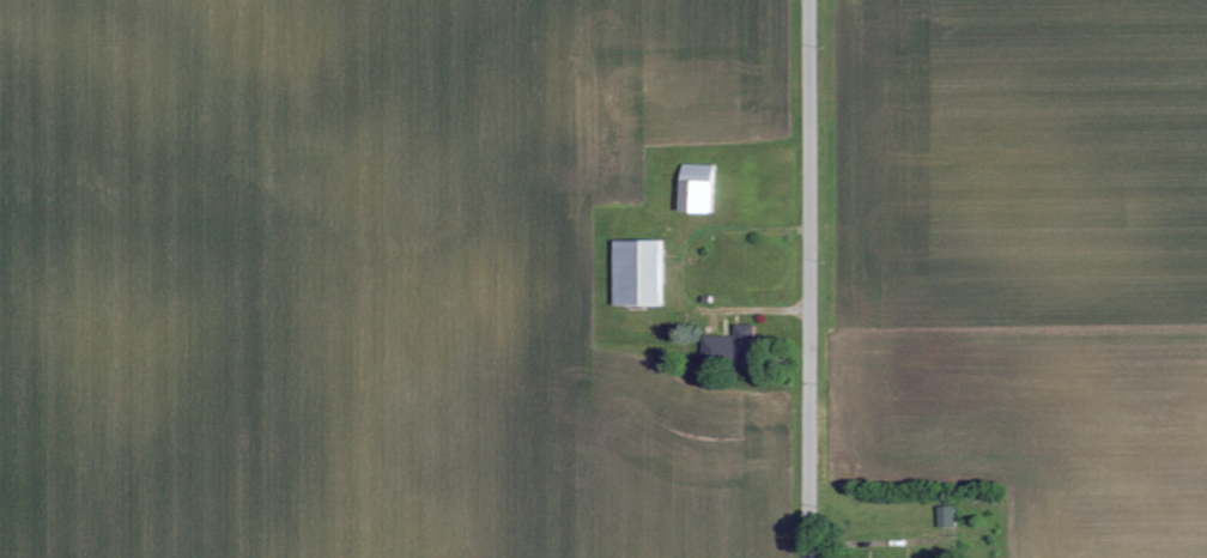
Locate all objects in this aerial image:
building: (693, 188)
building: (635, 273)
road: (811, 279)
building: (727, 346)
building: (945, 515)

